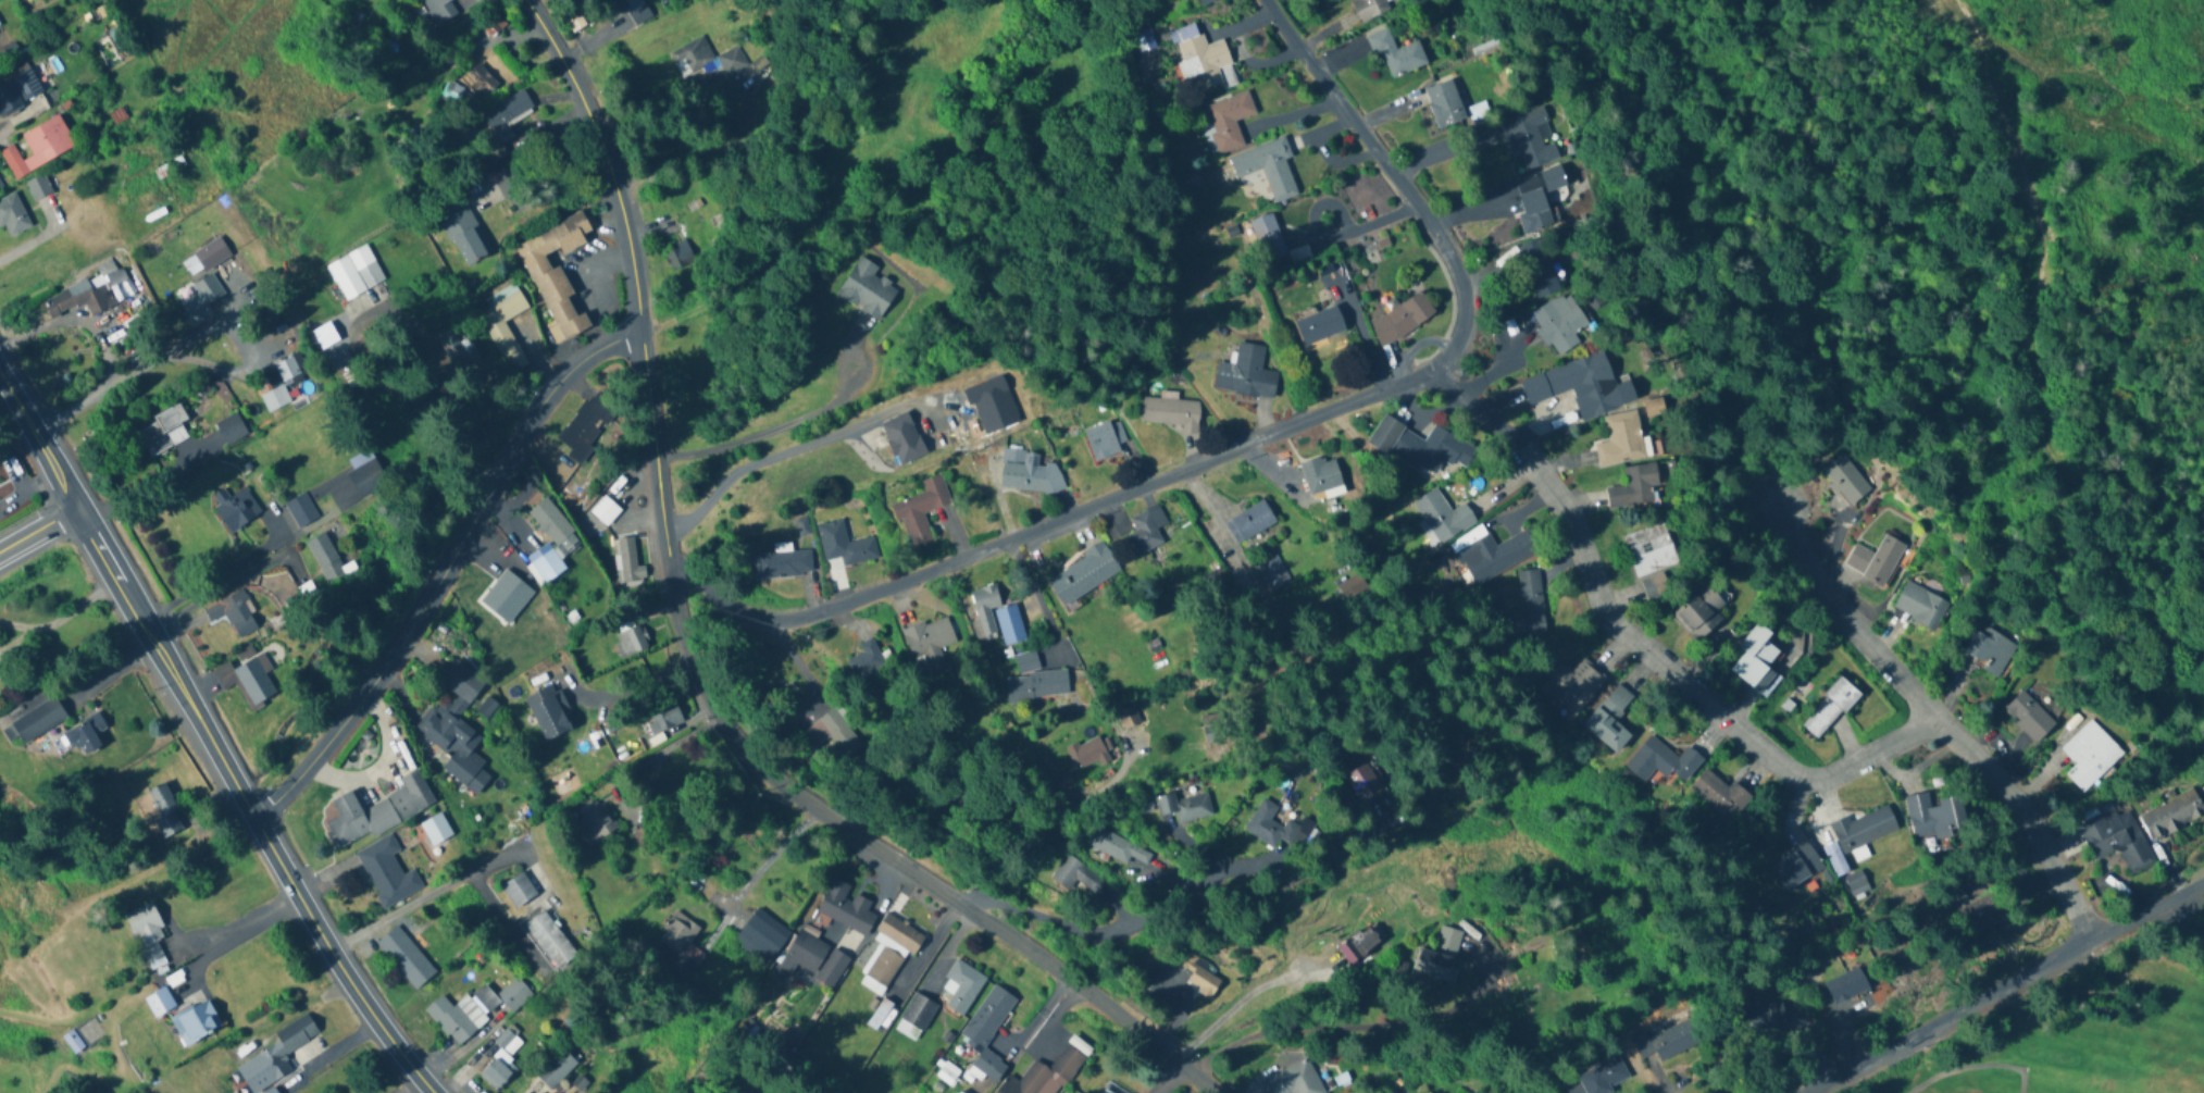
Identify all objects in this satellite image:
building: (1205, 0)
building: (1370, 8)
building: (438, 11)
building: (634, 12)
building: (1396, 53)
building: (1199, 55)
building: (692, 58)
building: (731, 61)
building: (477, 82)
building: (18, 91)
building: (1445, 103)
road: (742, 104)
building: (506, 111)
road: (17, 115)
building: (1228, 121)
building: (1529, 137)
building: (39, 147)
building: (1268, 166)
building: (1554, 177)
road: (1400, 182)
building: (40, 184)
building: (1533, 203)
road: (496, 204)
building: (12, 215)
building: (462, 233)
road: (36, 237)
building: (1268, 237)
building: (211, 253)
building: (677, 256)
building: (1539, 268)
building: (354, 272)
building: (556, 274)
building: (867, 289)
building: (79, 296)
building: (201, 299)
building: (1402, 319)
building: (1559, 323)
building: (502, 325)
building: (1320, 325)
road: (231, 326)
road: (101, 344)
building: (456, 344)
road: (533, 359)
building: (1245, 374)
building: (281, 382)
building: (1578, 386)
building: (1654, 408)
building: (1171, 414)
road: (781, 424)
building: (587, 426)
building: (163, 431)
road: (40, 436)
building: (902, 439)
building: (1621, 440)
building: (1104, 442)
building: (1421, 447)
road: (783, 451)
building: (1028, 472)
building: (1321, 475)
building: (366, 477)
building: (1846, 480)
building: (1635, 487)
building: (575, 499)
building: (235, 507)
building: (922, 509)
building: (302, 511)
building: (1443, 517)
road: (1048, 522)
building: (1249, 522)
building: (555, 526)
building: (1146, 530)
road: (40, 531)
building: (844, 545)
building: (1651, 549)
building: (1493, 554)
building: (327, 558)
building: (1877, 559)
building: (782, 564)
building: (628, 566)
building: (547, 567)
road: (450, 570)
building: (1272, 572)
building: (1083, 574)
road: (207, 583)
building: (1656, 586)
building: (1353, 588)
building: (510, 593)
road: (1036, 599)
building: (1920, 605)
building: (1527, 611)
building: (234, 612)
building: (1701, 612)
road: (61, 616)
building: (996, 617)
road: (1840, 619)
building: (631, 642)
building: (930, 642)
road: (1633, 642)
building: (1989, 649)
building: (1758, 659)
road: (790, 662)
building: (866, 662)
road: (689, 666)
building: (247, 676)
building: (1035, 681)
building: (1572, 686)
road: (622, 687)
building: (1831, 707)
building: (549, 712)
building: (2030, 717)
building: (1128, 718)
building: (1611, 719)
building: (35, 720)
building: (457, 730)
building: (86, 734)
building: (834, 734)
building: (1088, 755)
building: (2091, 758)
building: (1663, 761)
road: (623, 771)
building: (1365, 784)
building: (1722, 795)
road: (247, 806)
building: (1184, 807)
building: (164, 810)
building: (376, 812)
building: (2174, 813)
building: (1938, 817)
road: (2022, 817)
building: (593, 822)
building: (1275, 825)
building: (1866, 828)
building: (435, 830)
building: (2117, 839)
building: (1131, 856)
road: (760, 859)
building: (1836, 859)
building: (1797, 866)
building: (386, 872)
building: (1072, 874)
road: (456, 879)
building: (1858, 882)
building: (518, 891)
building: (35, 894)
building: (1985, 902)
building: (846, 907)
building: (146, 931)
road: (1098, 931)
road: (232, 933)
building: (899, 934)
building: (761, 937)
building: (551, 941)
building: (681, 945)
building: (1359, 945)
building: (802, 954)
building: (406, 957)
building: (1440, 957)
building: (881, 971)
building: (1199, 976)
building: (1847, 986)
road: (2005, 988)
building: (960, 989)
building: (502, 995)
road: (1240, 999)
building: (160, 1002)
building: (879, 1015)
building: (456, 1018)
building: (914, 1018)
building: (196, 1022)
road: (1337, 1024)
building: (988, 1030)
building: (1679, 1038)
park: (2080, 1039)
building: (275, 1055)
building: (501, 1059)
building: (556, 1069)
building: (1049, 1070)
building: (1604, 1076)
building: (1295, 1079)
building: (1110, 1089)
building: (271, 1091)

